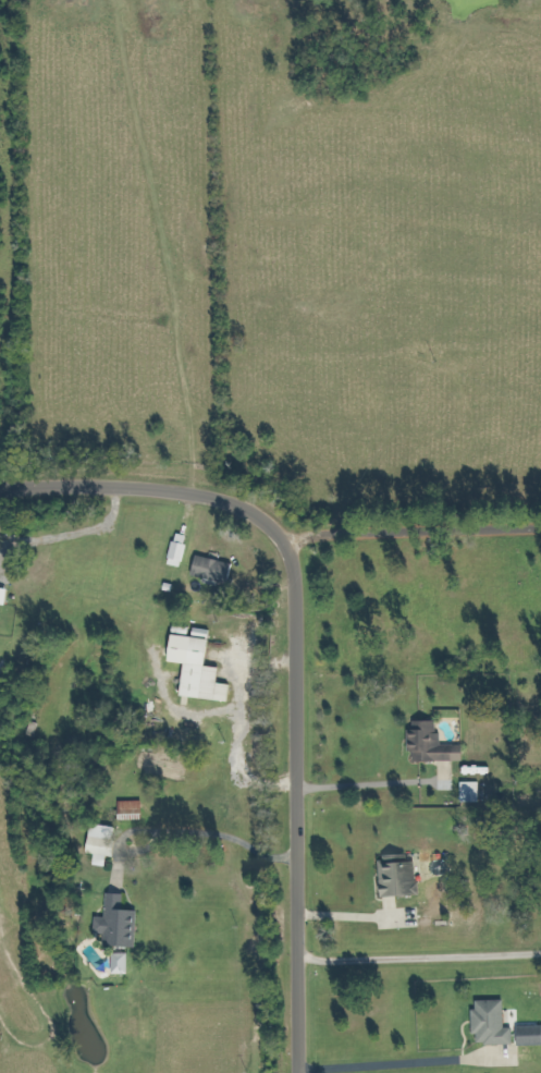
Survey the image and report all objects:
road: (410, 531)
building: (180, 550)
building: (213, 570)
building: (7, 597)
road: (294, 657)
building: (433, 744)
building: (472, 792)
building: (132, 810)
building: (102, 843)
building: (399, 879)
building: (119, 924)
road: (419, 959)
building: (121, 964)
building: (493, 1023)
building: (529, 1036)

